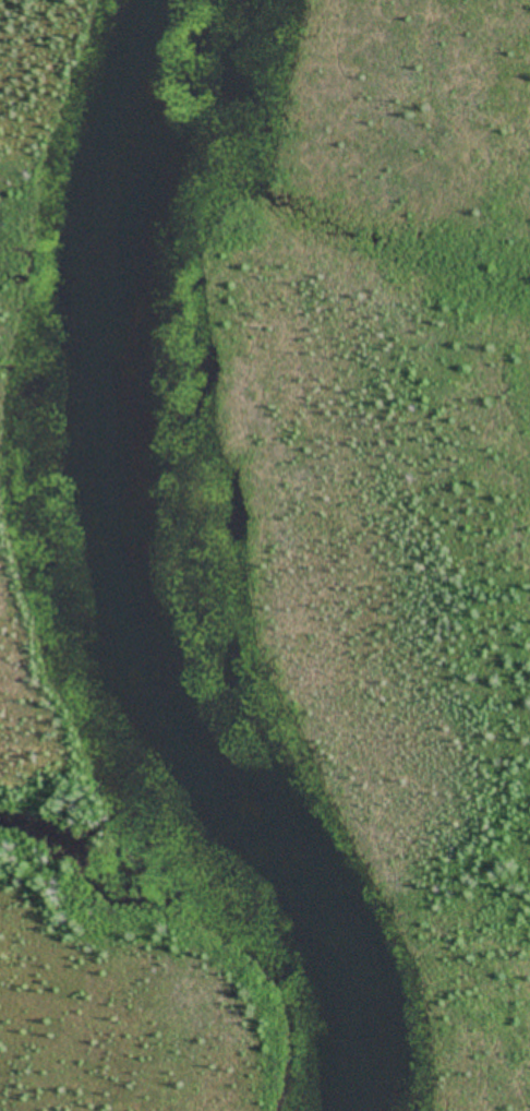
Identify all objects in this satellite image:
river: (140, 580)

